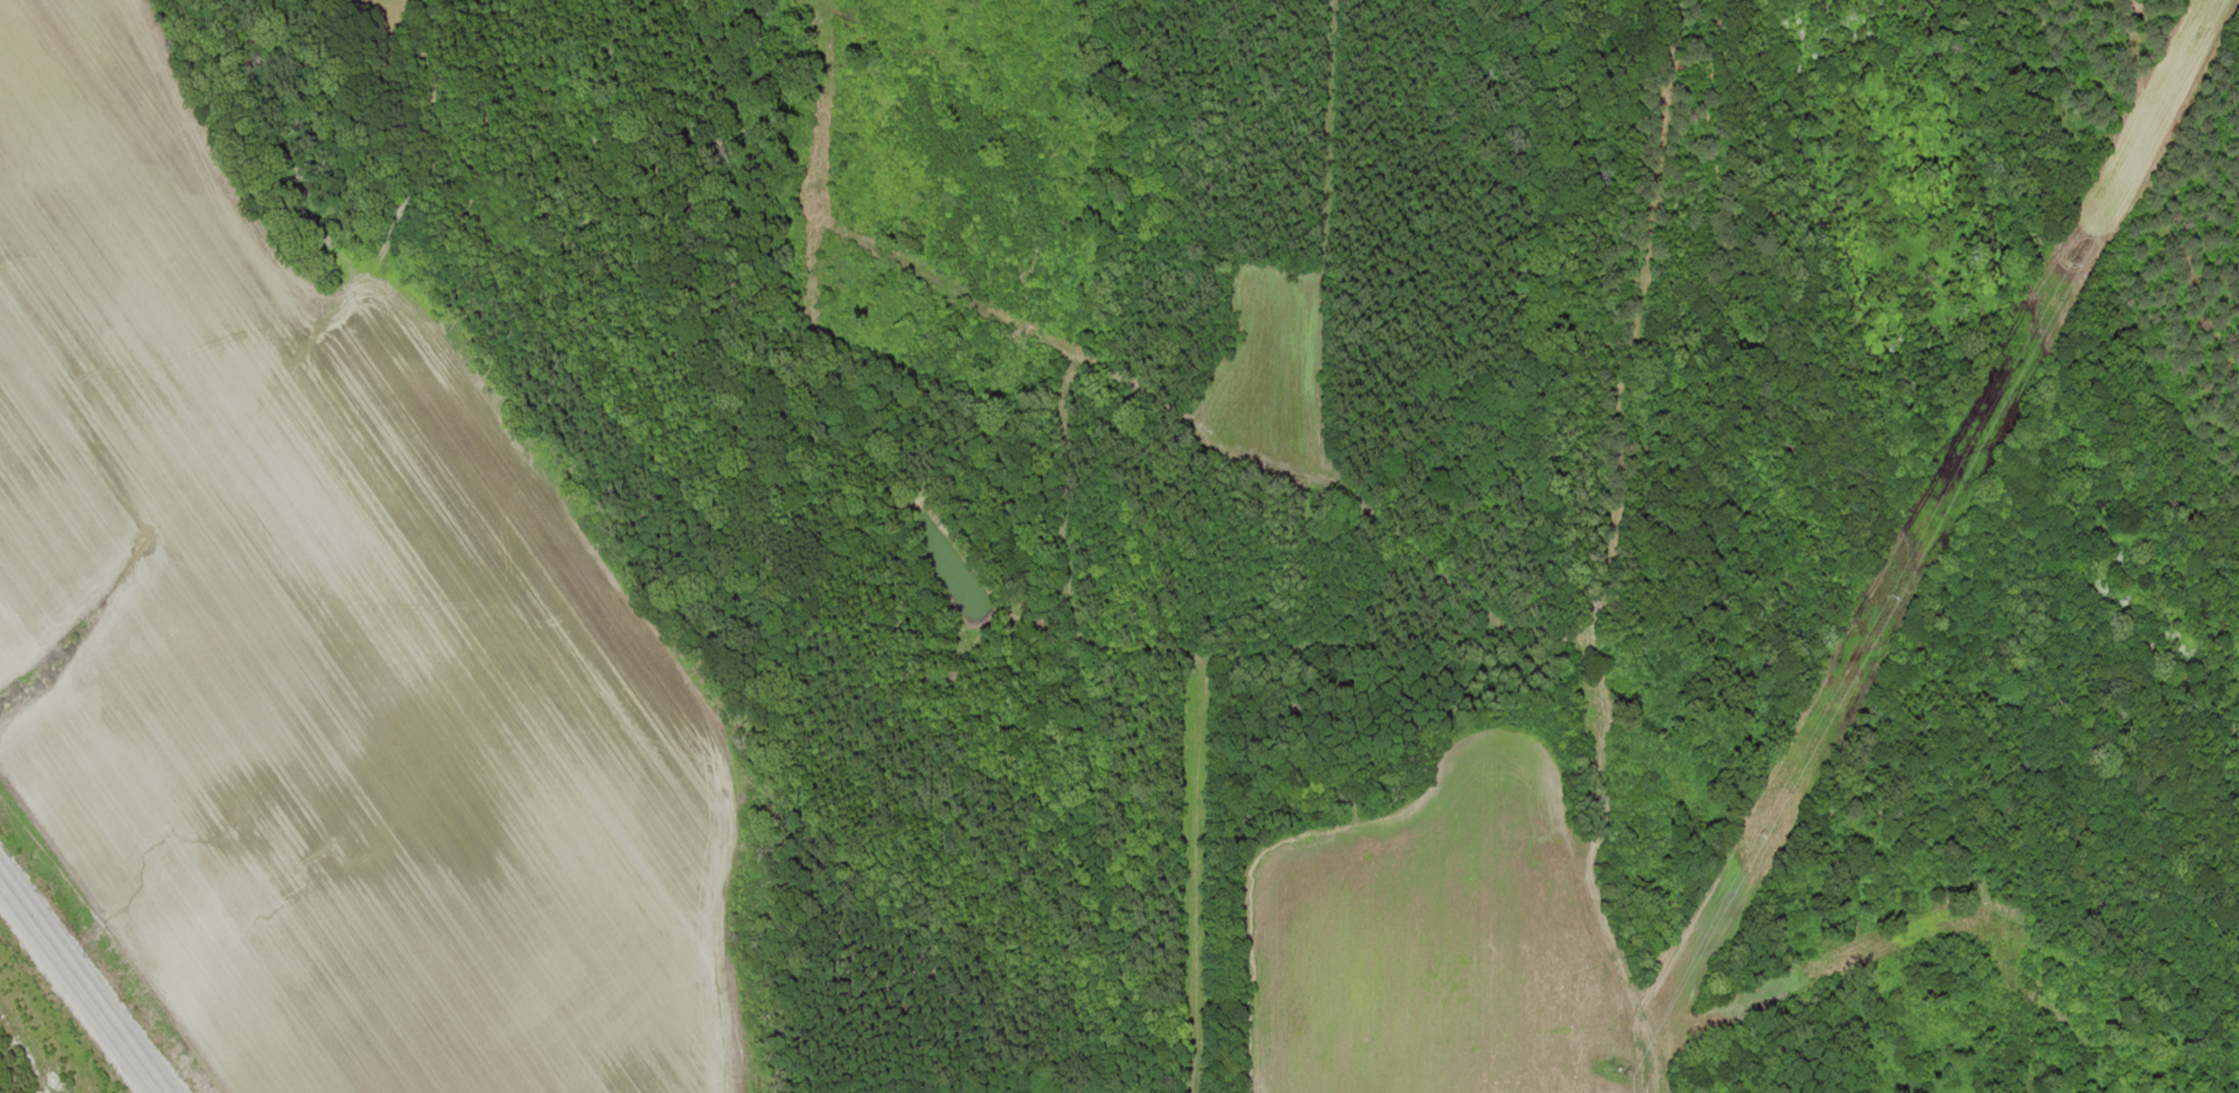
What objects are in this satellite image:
railway: (75, 991)

